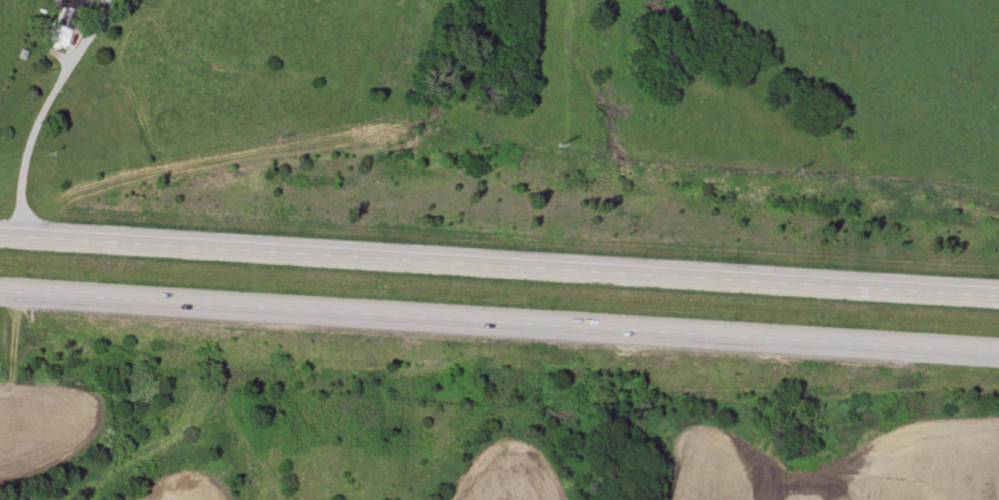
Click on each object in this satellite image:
building: (76, 13)
road: (41, 110)
road: (499, 258)
road: (499, 315)
crop: (48, 426)
crop: (507, 473)
crop: (181, 487)

